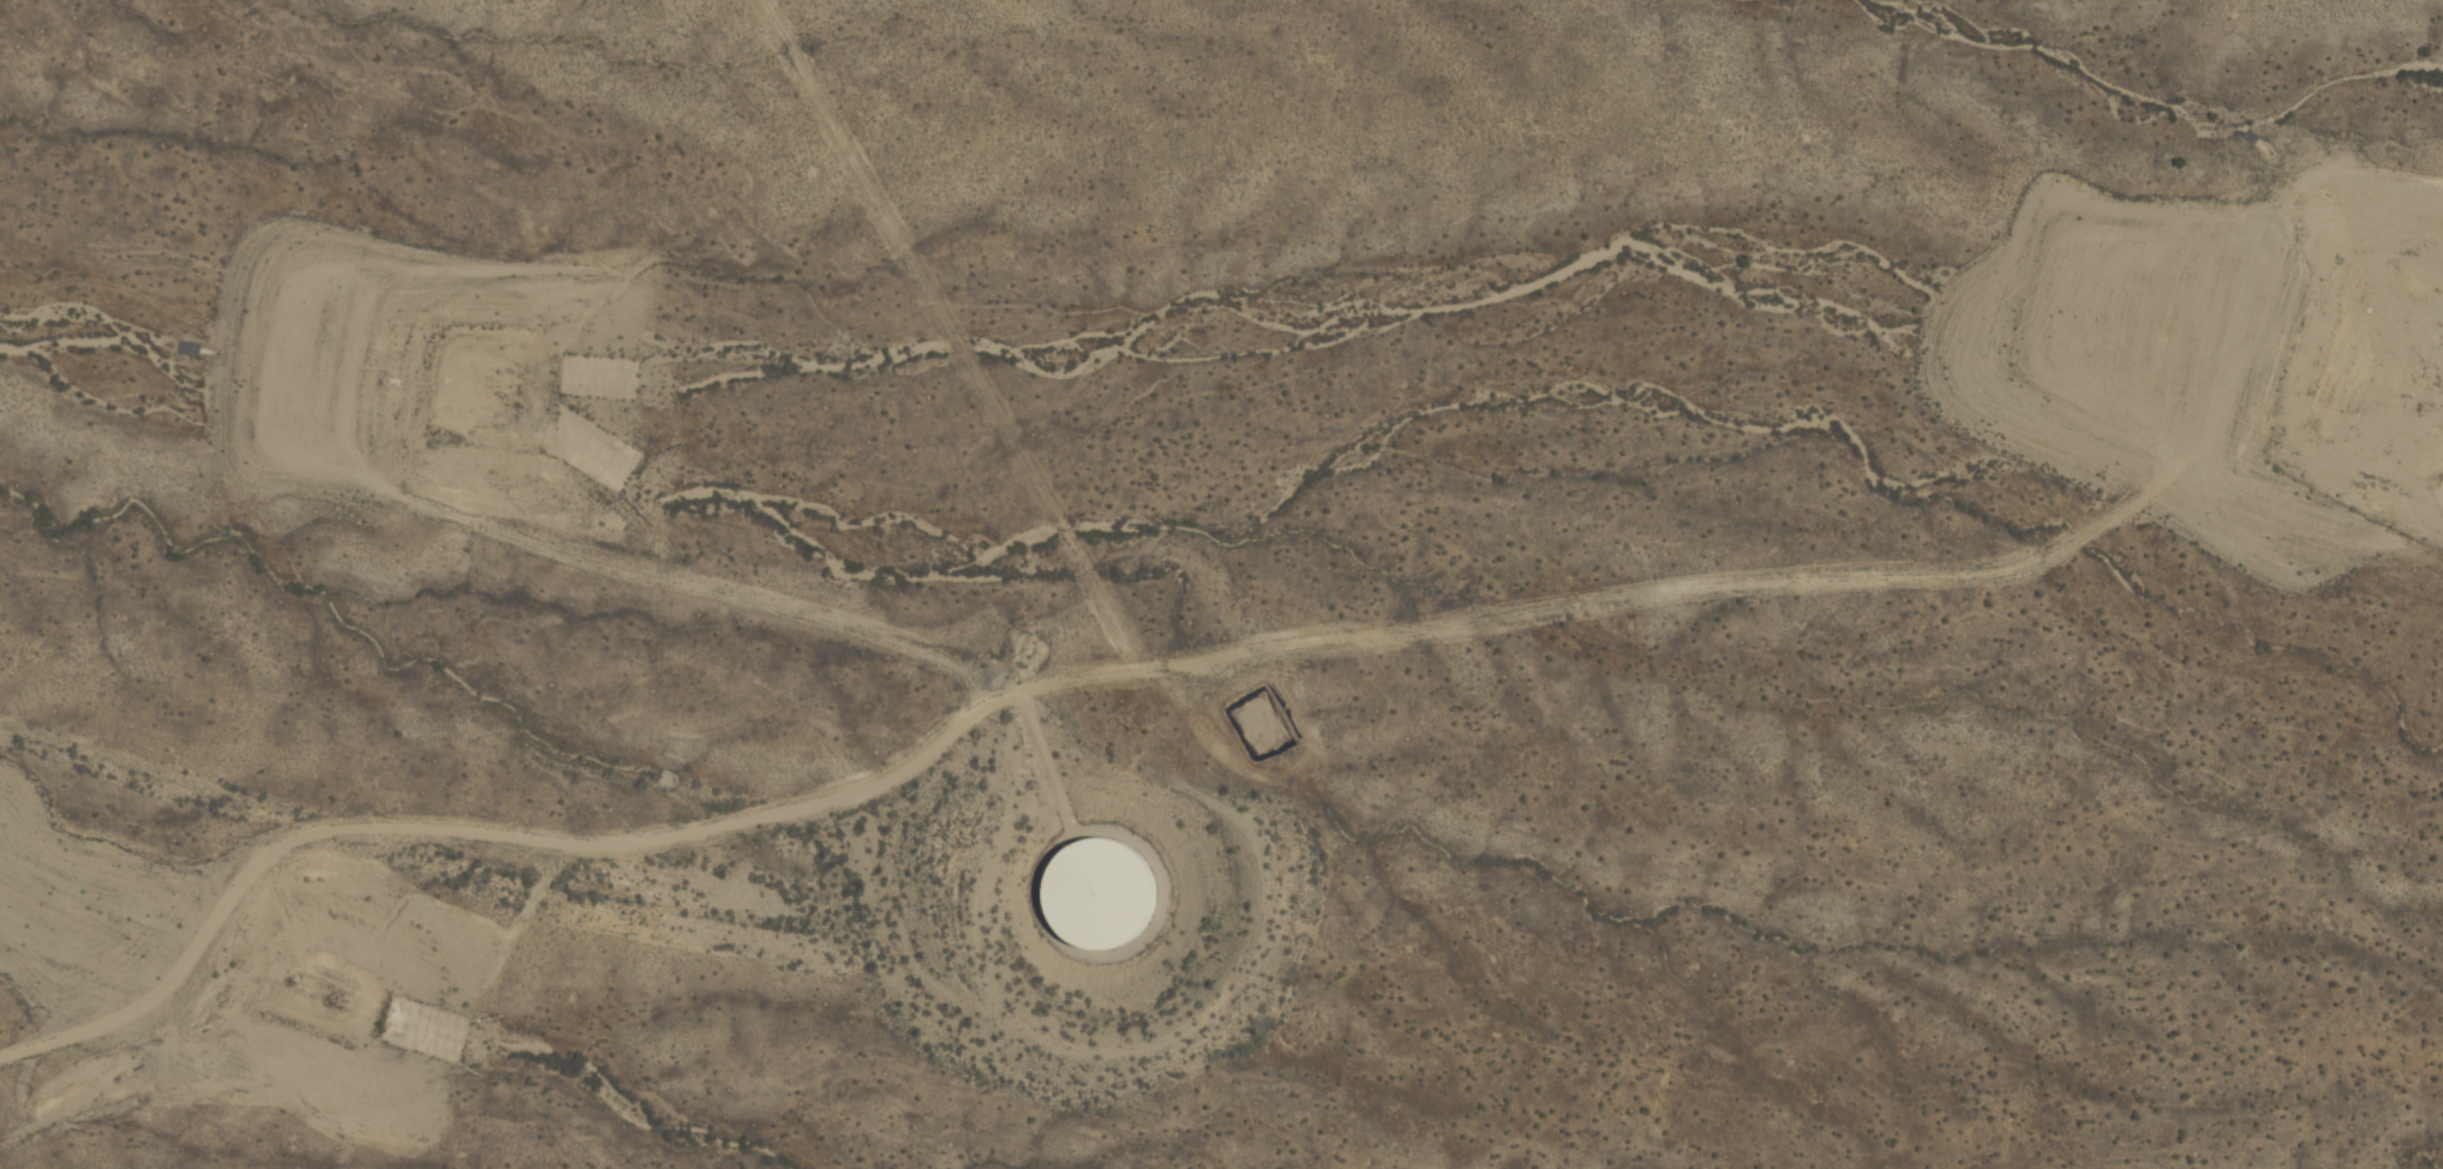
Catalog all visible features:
building: (1097, 893)

